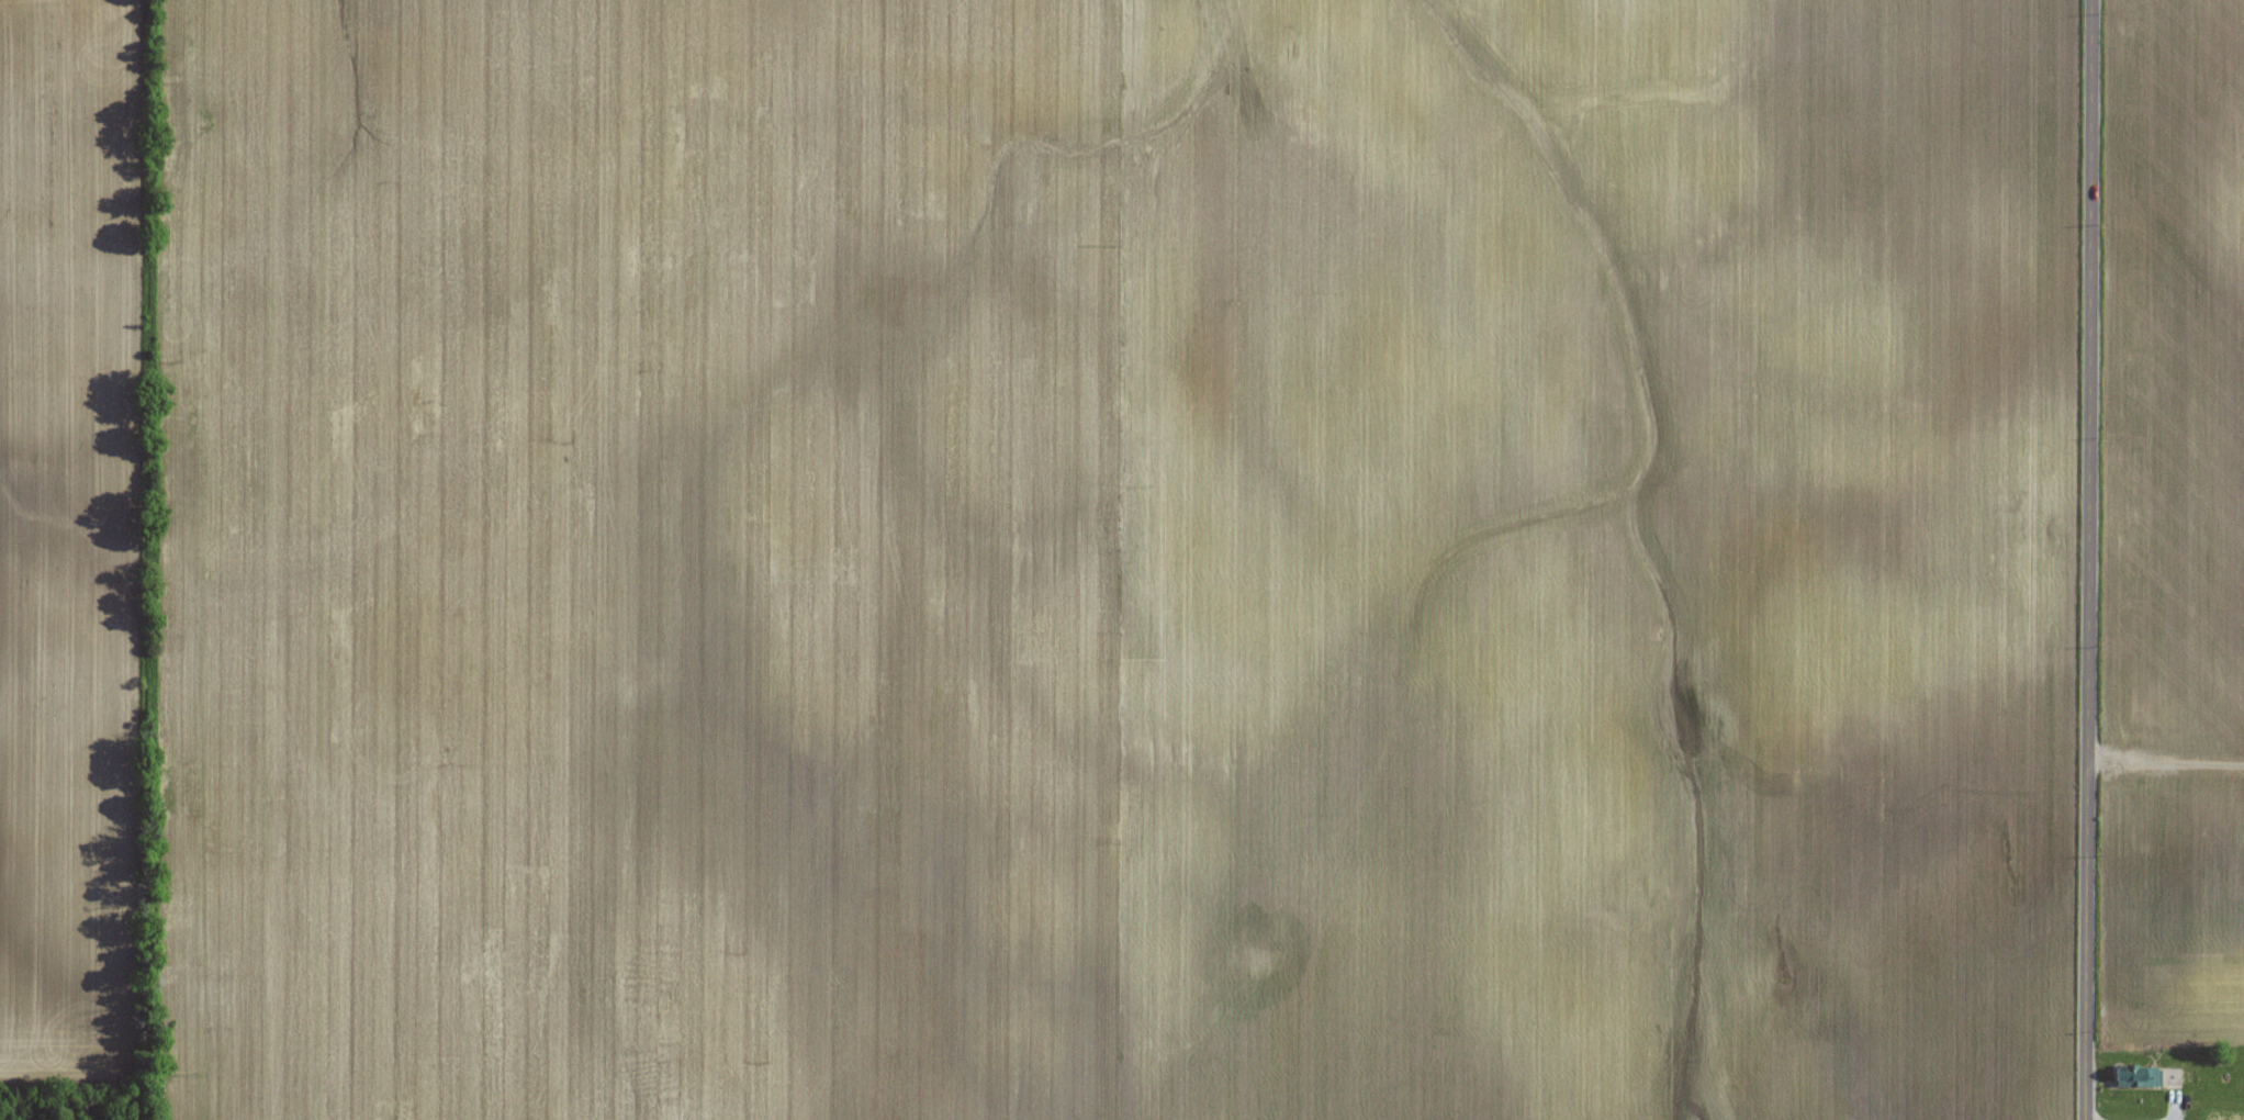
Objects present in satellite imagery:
crop: (2175, 527)
road: (2087, 560)
building: (2138, 1076)

